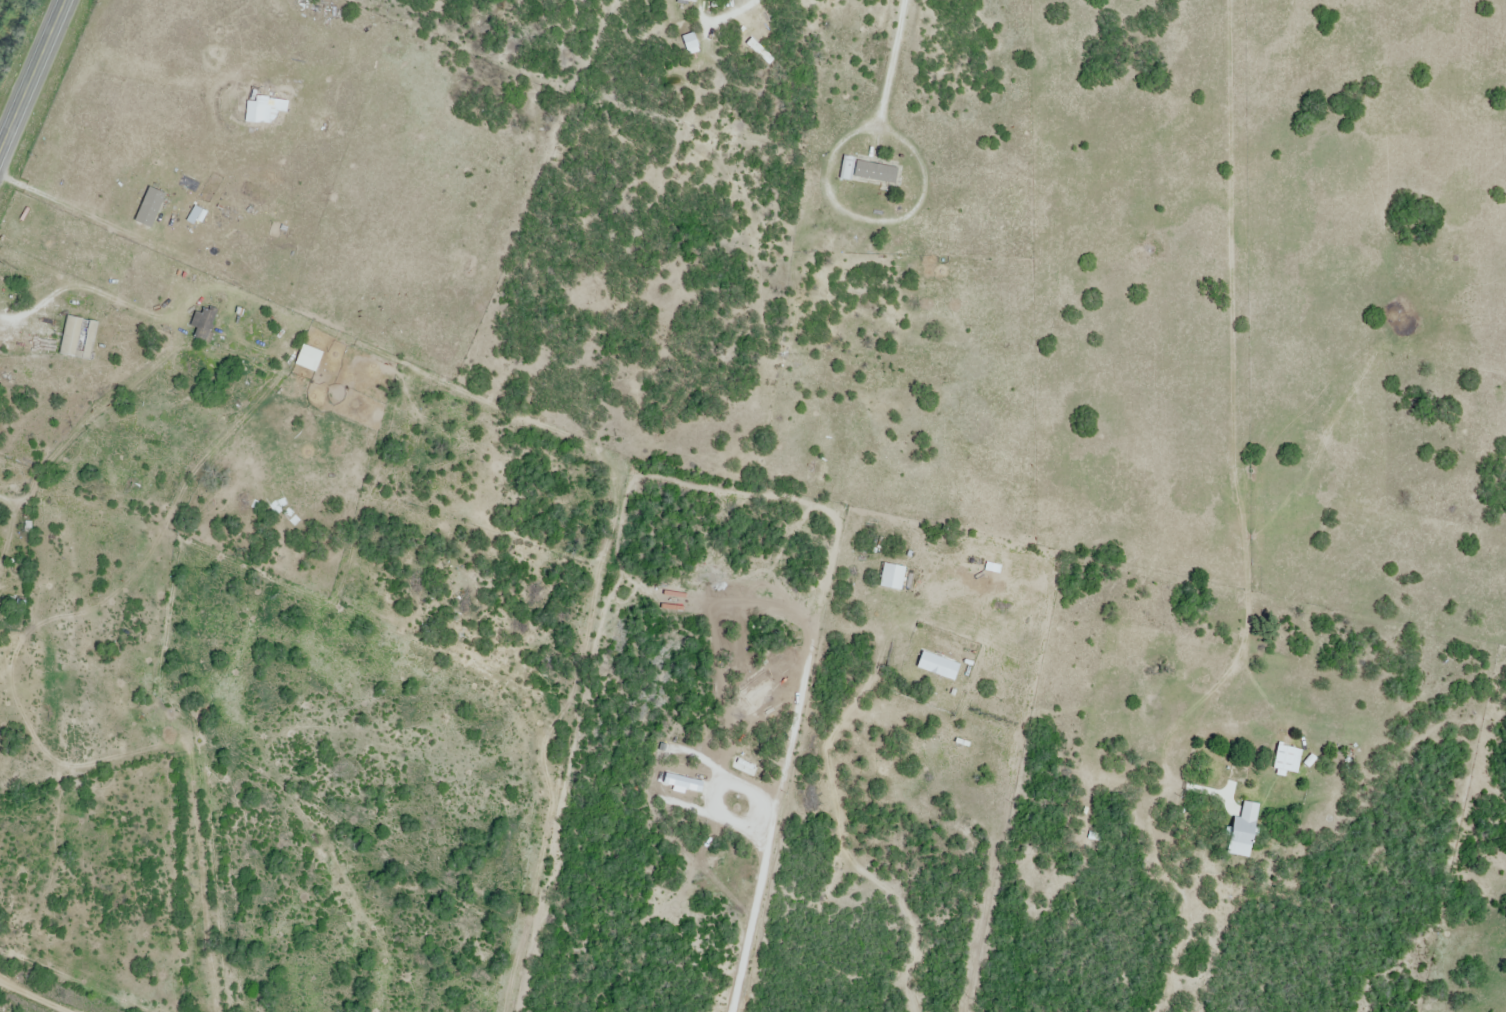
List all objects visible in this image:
road: (32, 73)
building: (868, 172)
building: (203, 325)
building: (261, 341)
building: (308, 359)
building: (892, 576)
building: (938, 666)
building: (1287, 761)
building: (673, 785)
building: (1242, 831)
road: (42, 993)

